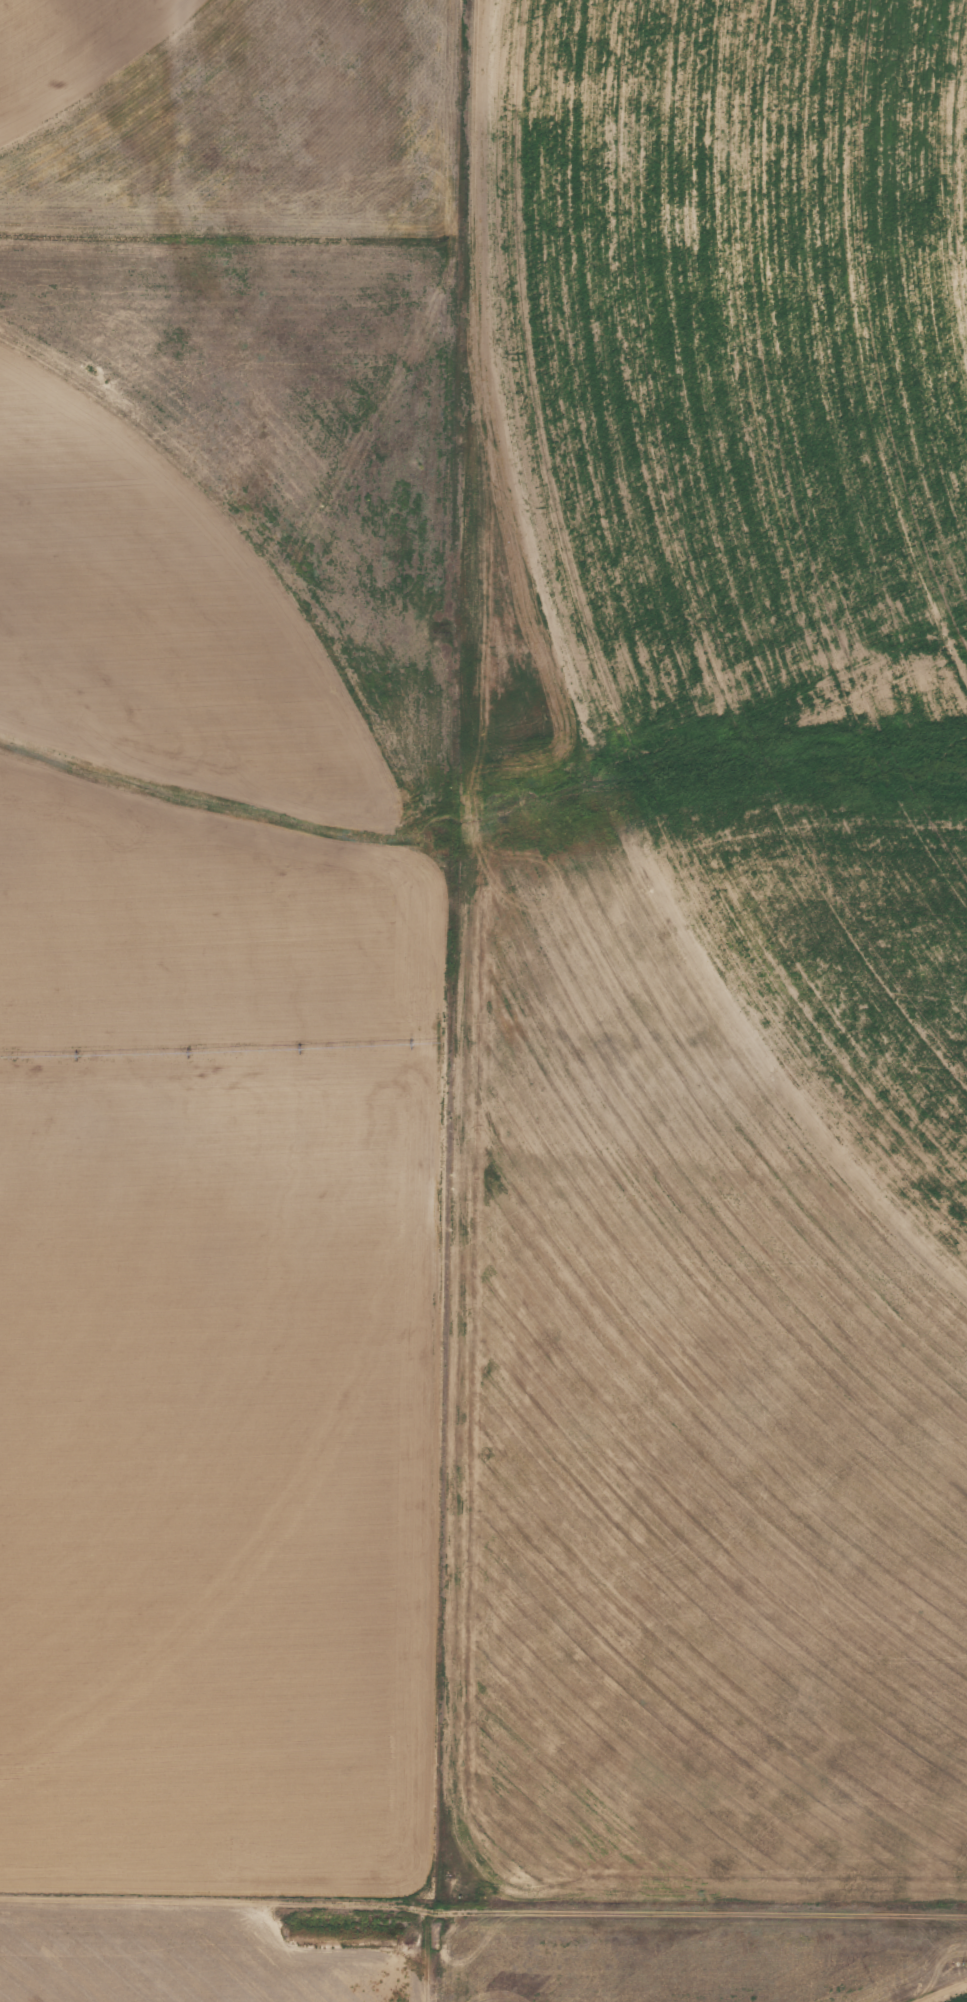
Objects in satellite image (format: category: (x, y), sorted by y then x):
crop: (216, 939)
road: (428, 1432)
crop: (188, 1962)
crop: (484, 1976)

